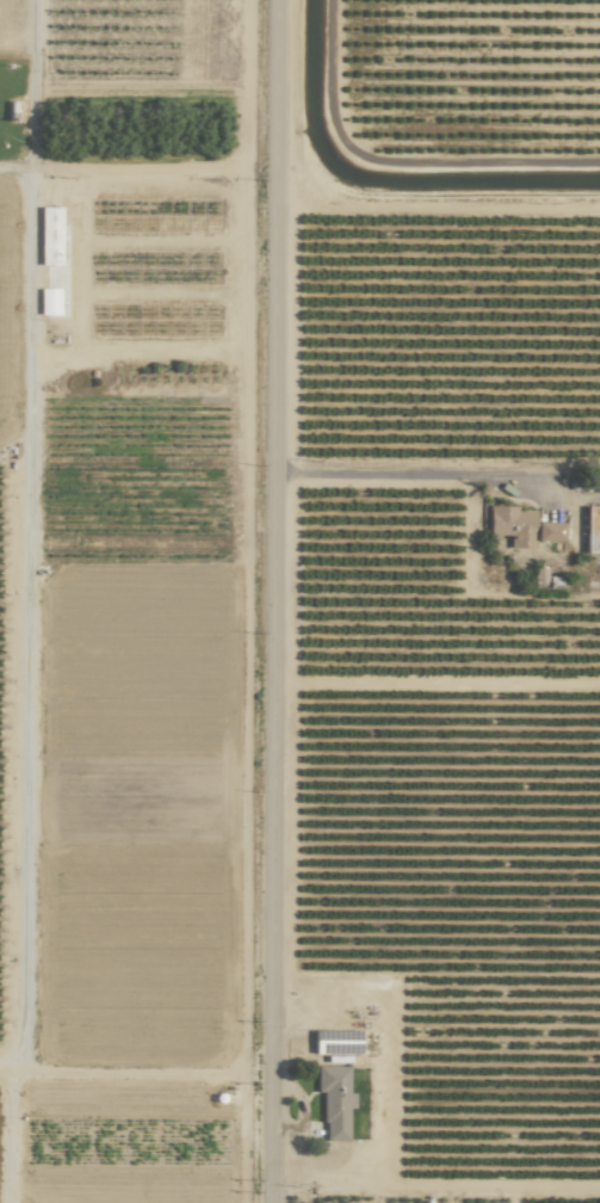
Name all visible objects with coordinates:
road: (140, 171)
building: (49, 235)
building: (48, 301)
road: (416, 474)
building: (520, 526)
building: (592, 530)
road: (25, 533)
road: (278, 601)
road: (137, 1073)
building: (333, 1100)

